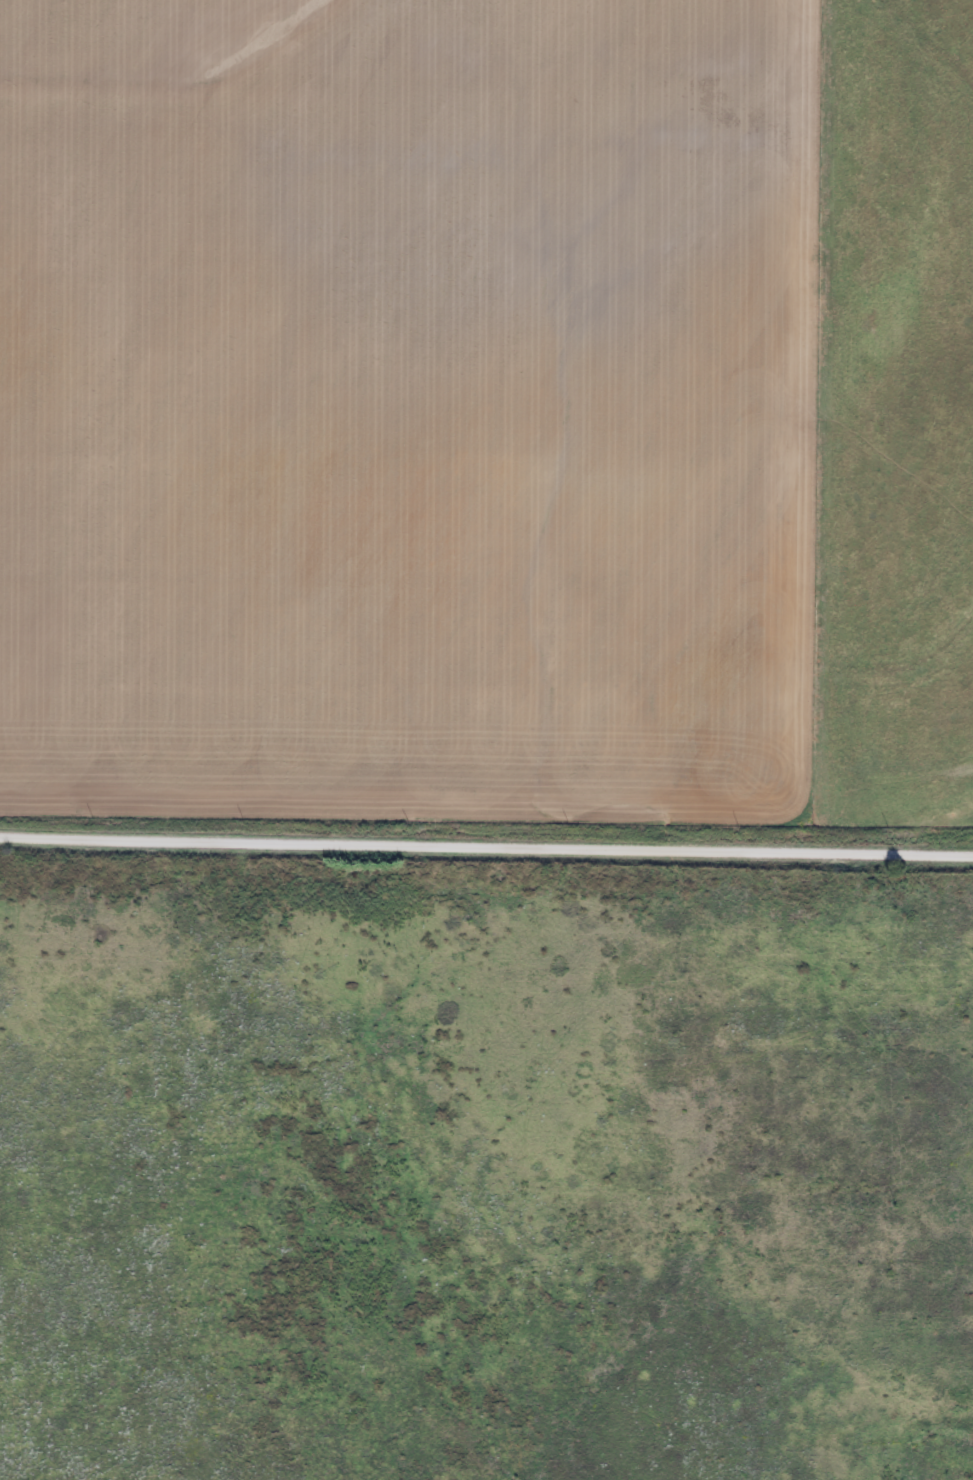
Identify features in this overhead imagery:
road: (486, 845)

